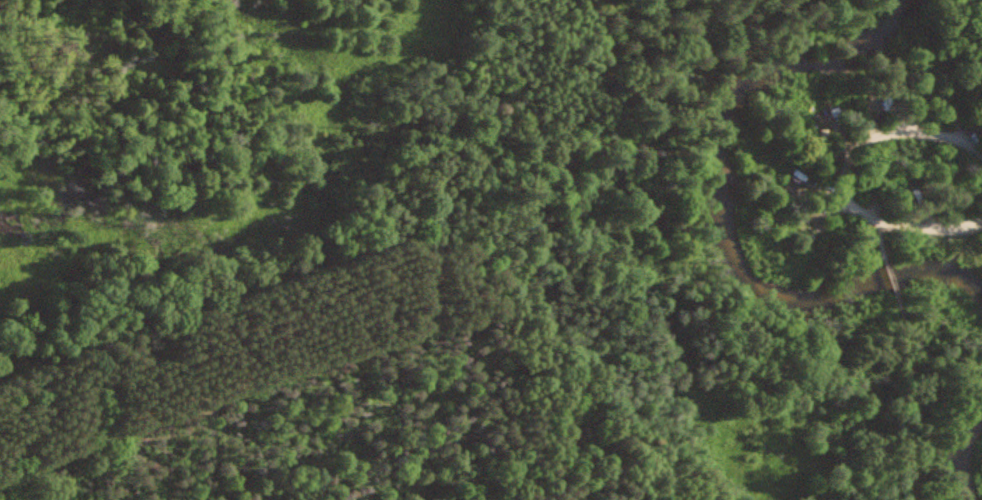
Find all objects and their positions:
road: (908, 56)
park: (868, 168)
road: (844, 172)
river: (722, 210)
road: (882, 236)
road: (660, 257)
road: (893, 281)
river: (965, 456)

